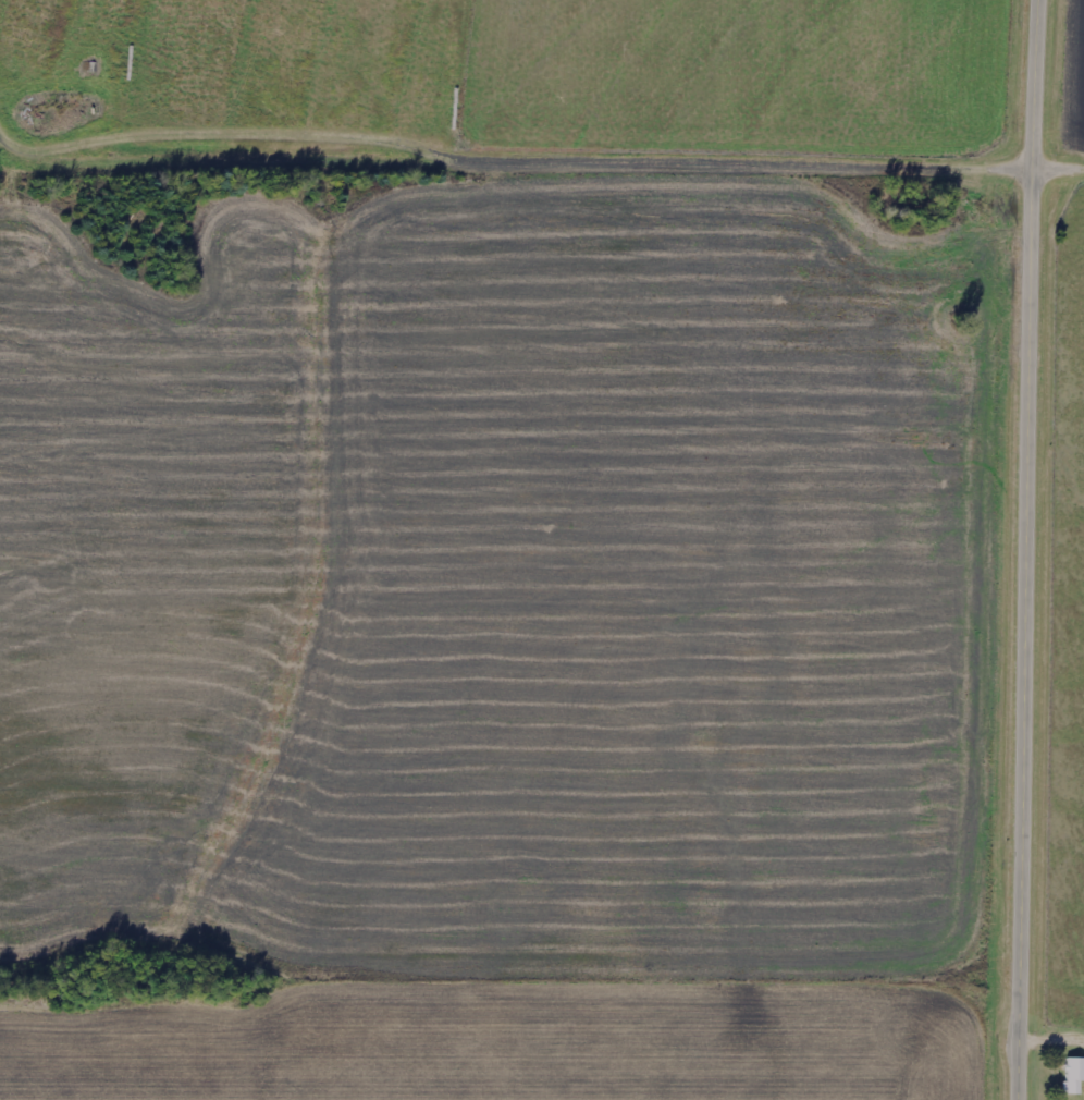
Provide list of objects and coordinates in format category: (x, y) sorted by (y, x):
road: (512, 167)
road: (1058, 173)
road: (1028, 549)
building: (1075, 1077)

